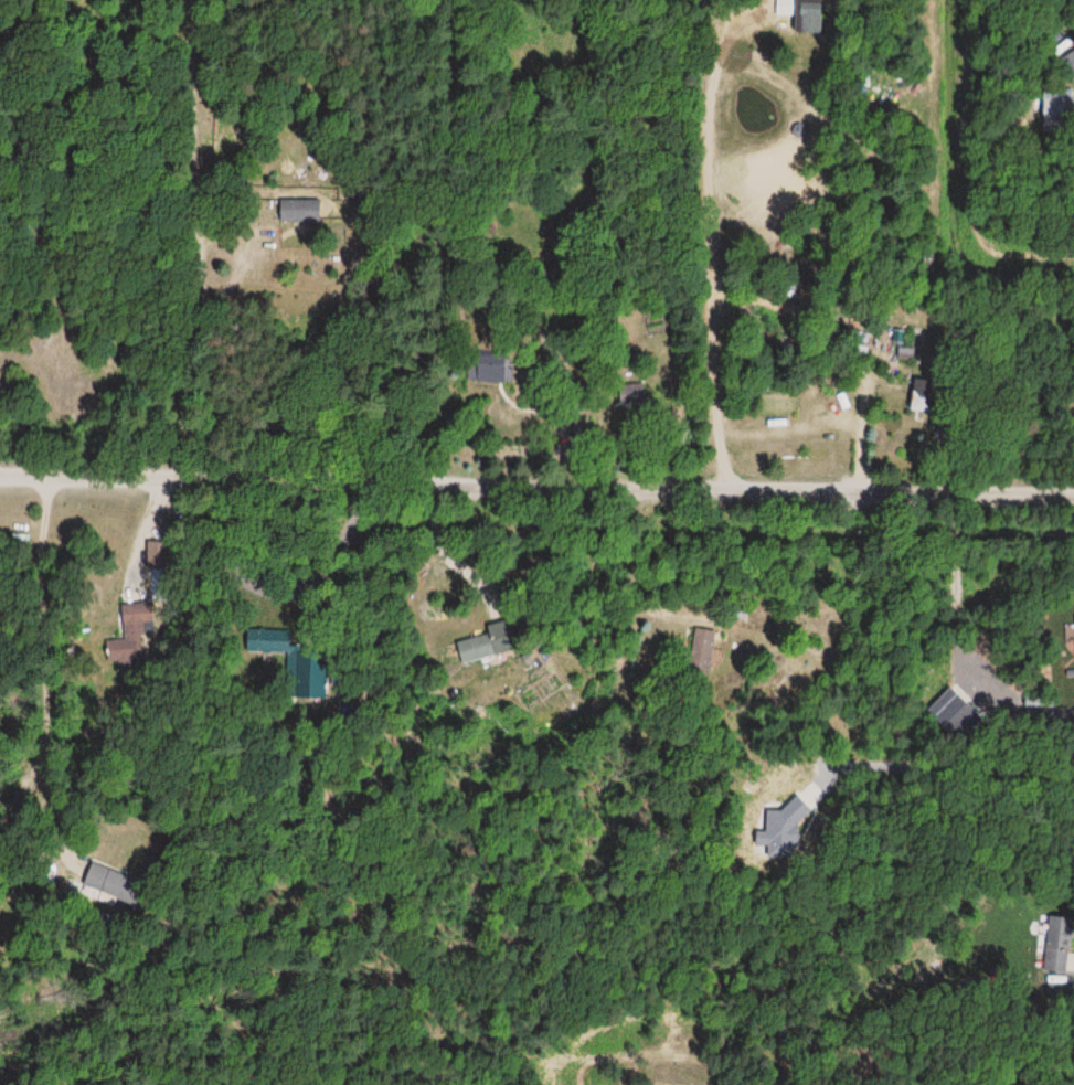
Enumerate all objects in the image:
building: (805, 17)
building: (1056, 108)
building: (297, 210)
road: (246, 258)
building: (902, 351)
building: (485, 368)
building: (631, 393)
building: (916, 395)
road: (536, 481)
building: (137, 635)
building: (268, 639)
road: (47, 647)
building: (475, 648)
building: (700, 650)
building: (960, 713)
building: (119, 876)
building: (1064, 945)

